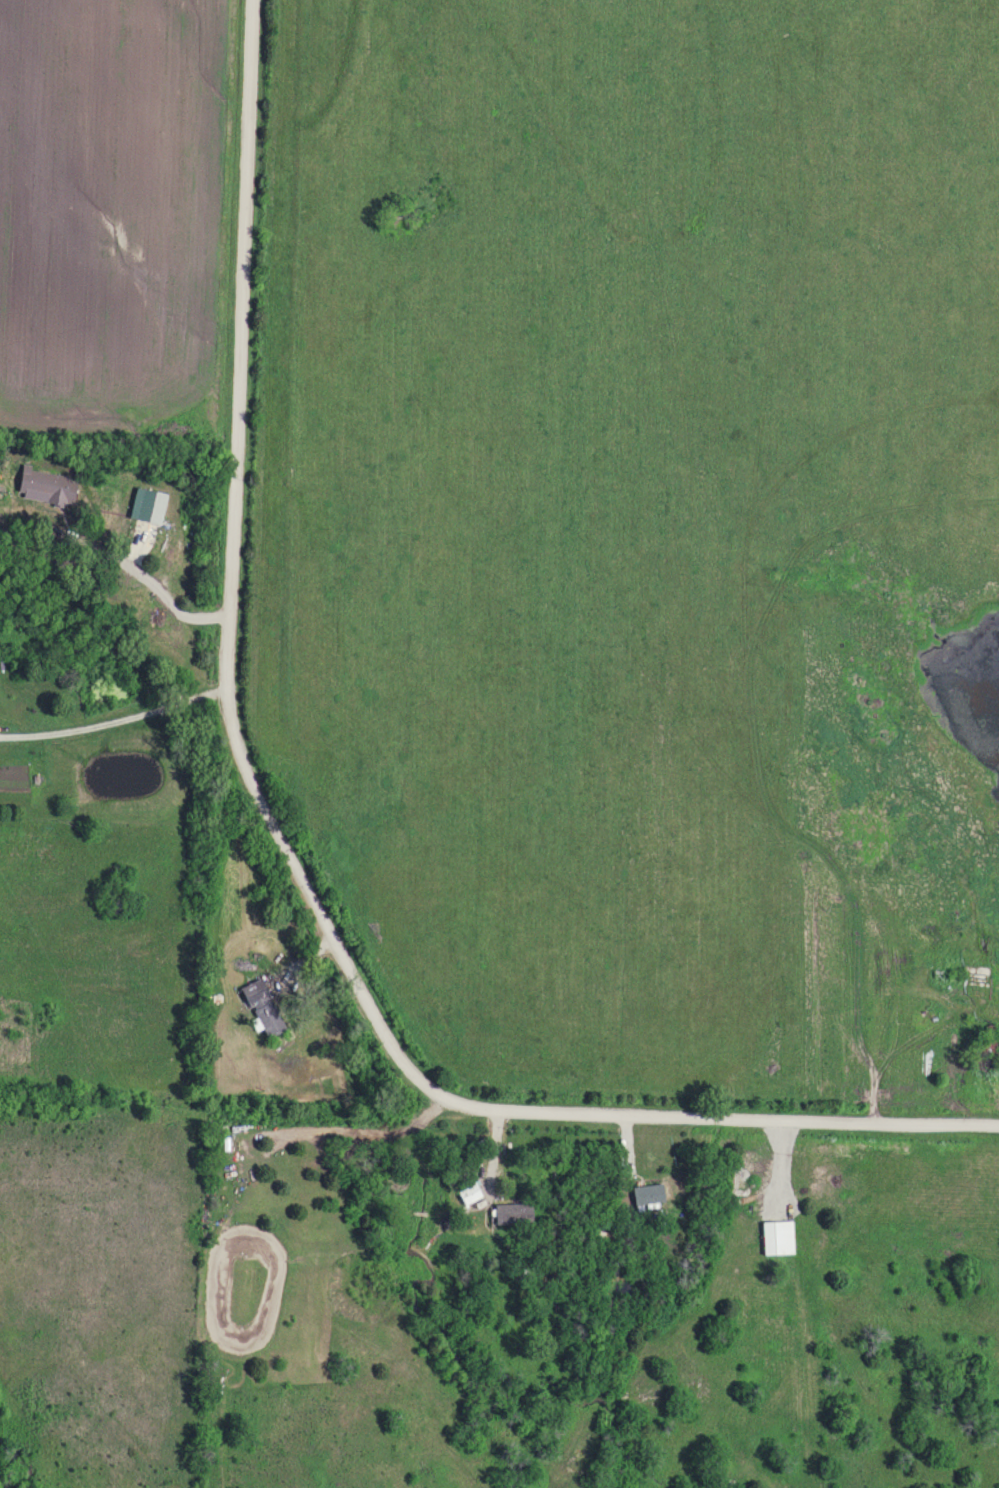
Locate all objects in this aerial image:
building: (41, 484)
road: (150, 577)
road: (116, 720)
road: (285, 846)
building: (261, 1010)
building: (988, 1048)
building: (646, 1195)
building: (512, 1215)
building: (776, 1237)

